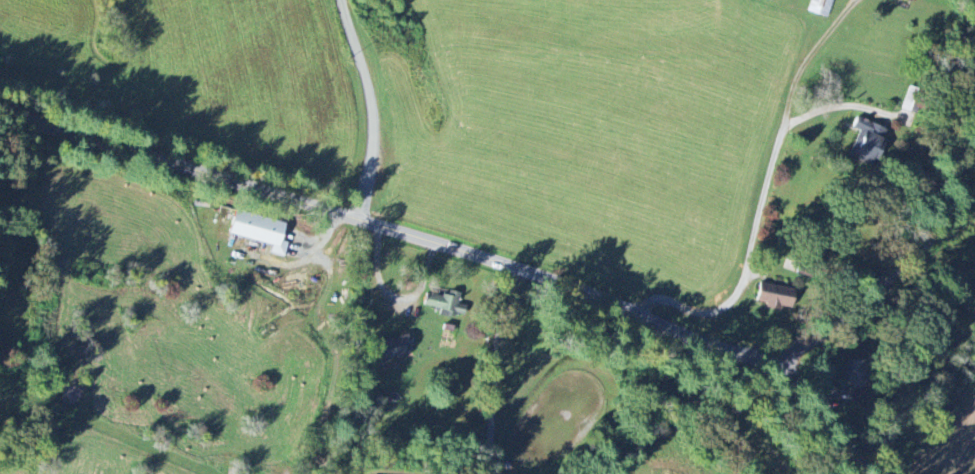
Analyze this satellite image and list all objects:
building: (820, 7)
road: (371, 108)
building: (866, 141)
road: (394, 229)
building: (260, 230)
road: (753, 238)
road: (880, 278)
river: (961, 287)
building: (776, 295)
building: (446, 303)
river: (965, 334)
building: (393, 348)
road: (495, 369)
road: (822, 415)

